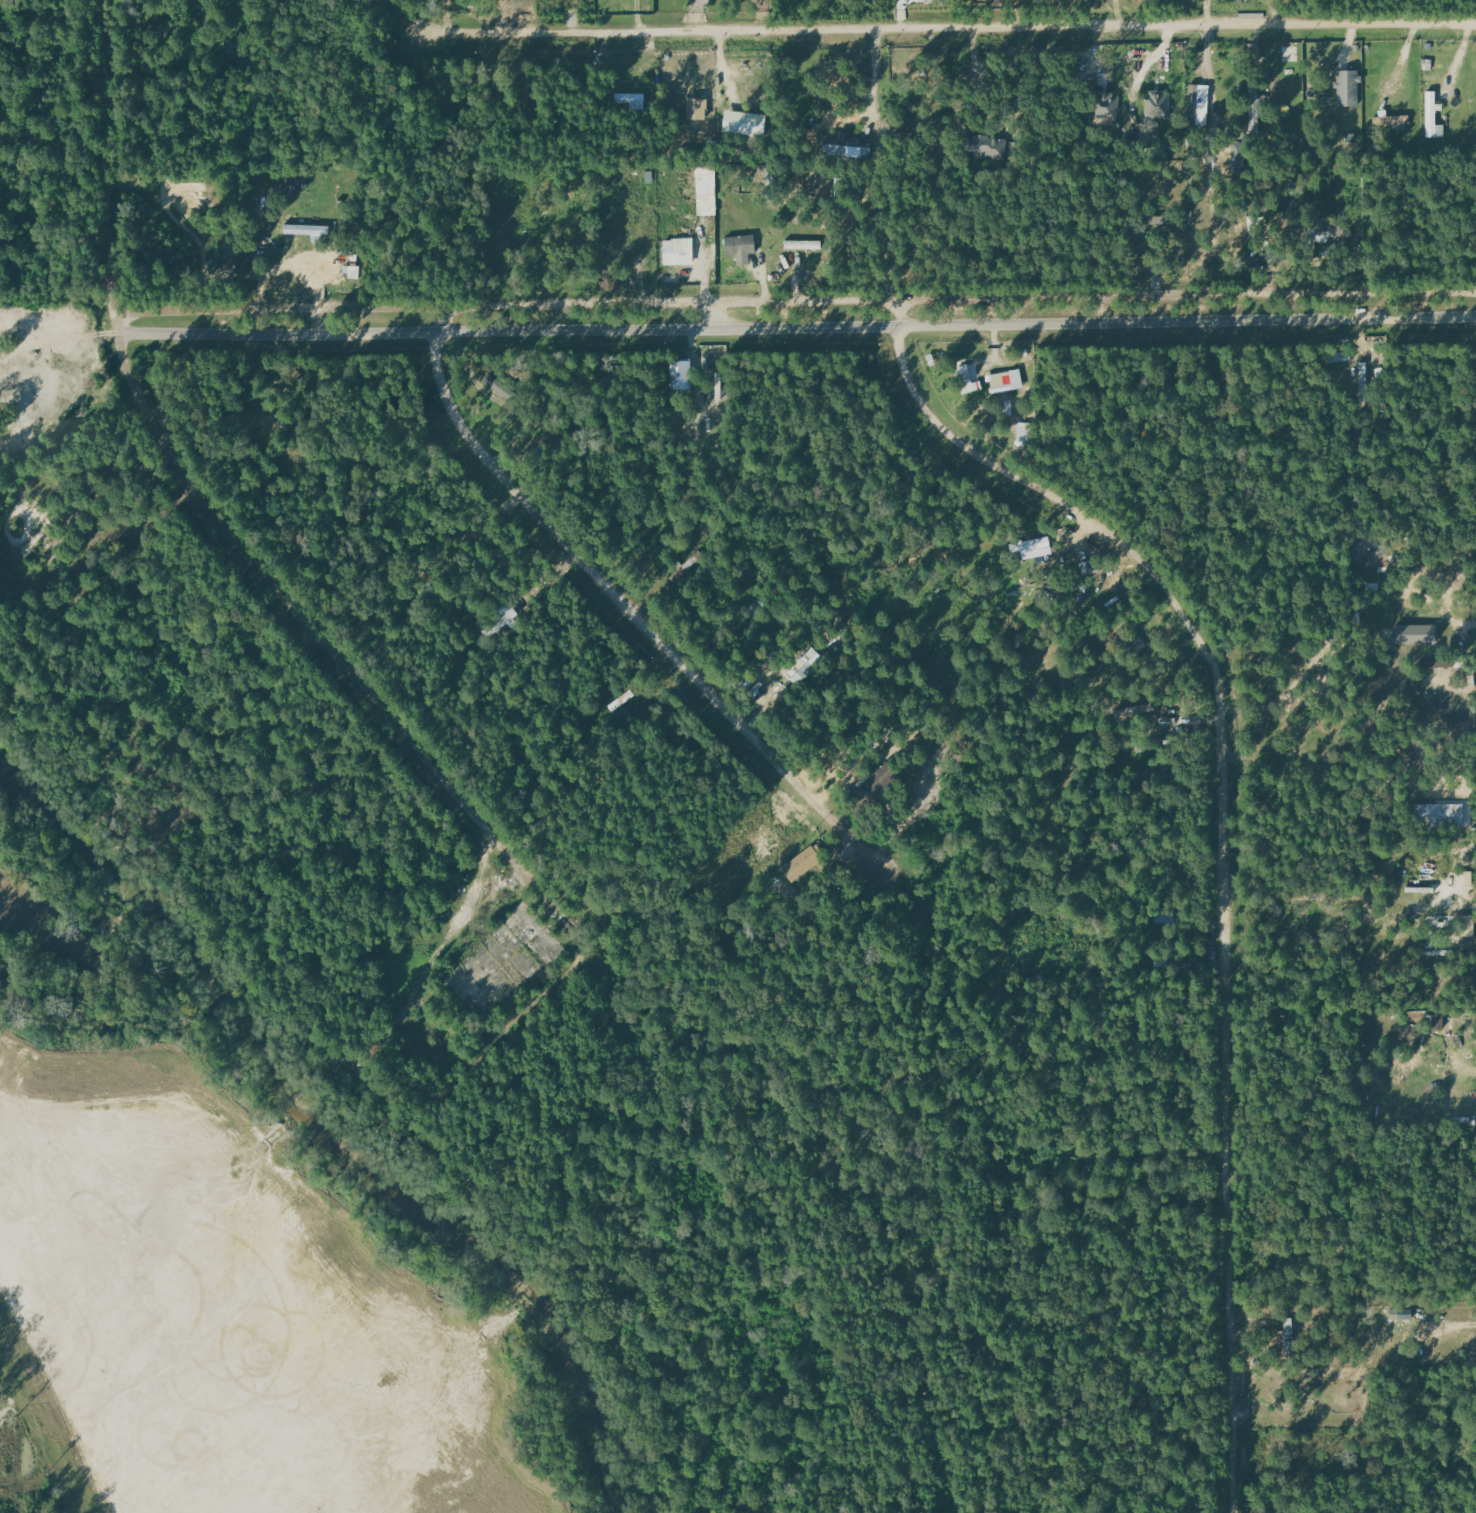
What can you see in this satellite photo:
road: (950, 28)
building: (1347, 87)
building: (623, 98)
building: (1197, 104)
building: (1105, 106)
building: (1156, 106)
building: (1254, 110)
building: (1432, 117)
building: (1392, 120)
building: (743, 127)
building: (684, 137)
building: (848, 145)
building: (990, 146)
building: (706, 190)
building: (305, 229)
building: (641, 234)
building: (740, 243)
building: (801, 245)
building: (677, 252)
road: (795, 299)
road: (798, 327)
building: (968, 377)
building: (1001, 382)
road: (221, 536)
building: (1032, 548)
road: (633, 612)
building: (1134, 642)
building: (1135, 710)
building: (870, 790)
building: (1439, 815)
road: (1224, 850)
building: (801, 865)
building: (1467, 922)
building: (1436, 1022)
river: (327, 1132)
building: (1395, 1314)
building: (1287, 1338)

